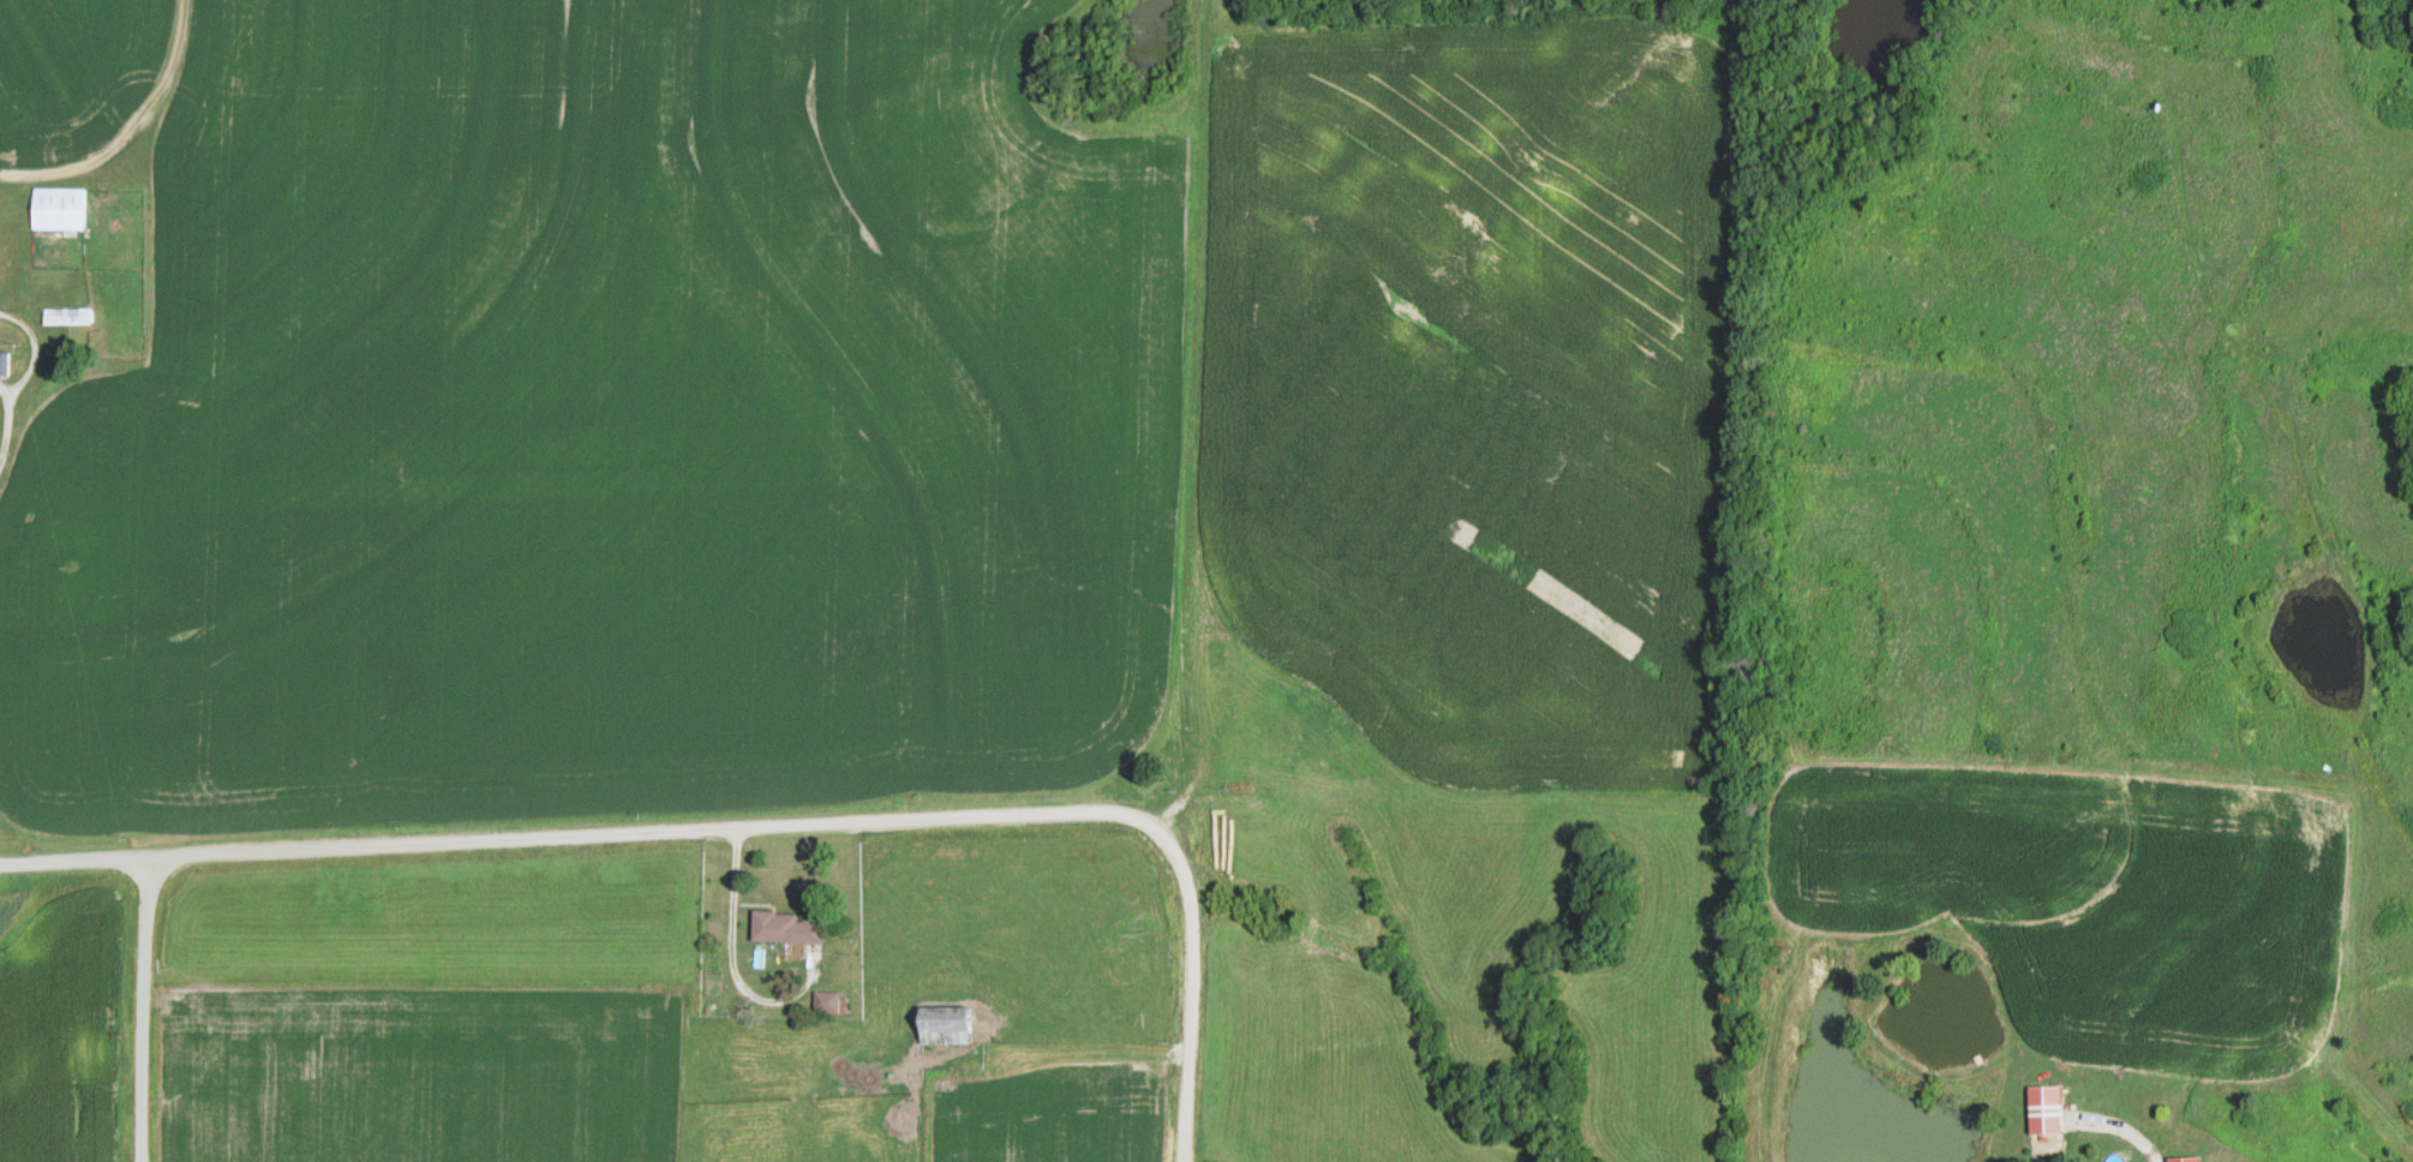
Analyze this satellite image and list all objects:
road: (127, 128)
building: (58, 209)
building: (66, 317)
road: (20, 377)
road: (750, 826)
building: (786, 927)
road: (734, 930)
building: (830, 1002)
road: (142, 1007)
building: (947, 1025)
building: (2044, 1109)
building: (2185, 1158)

